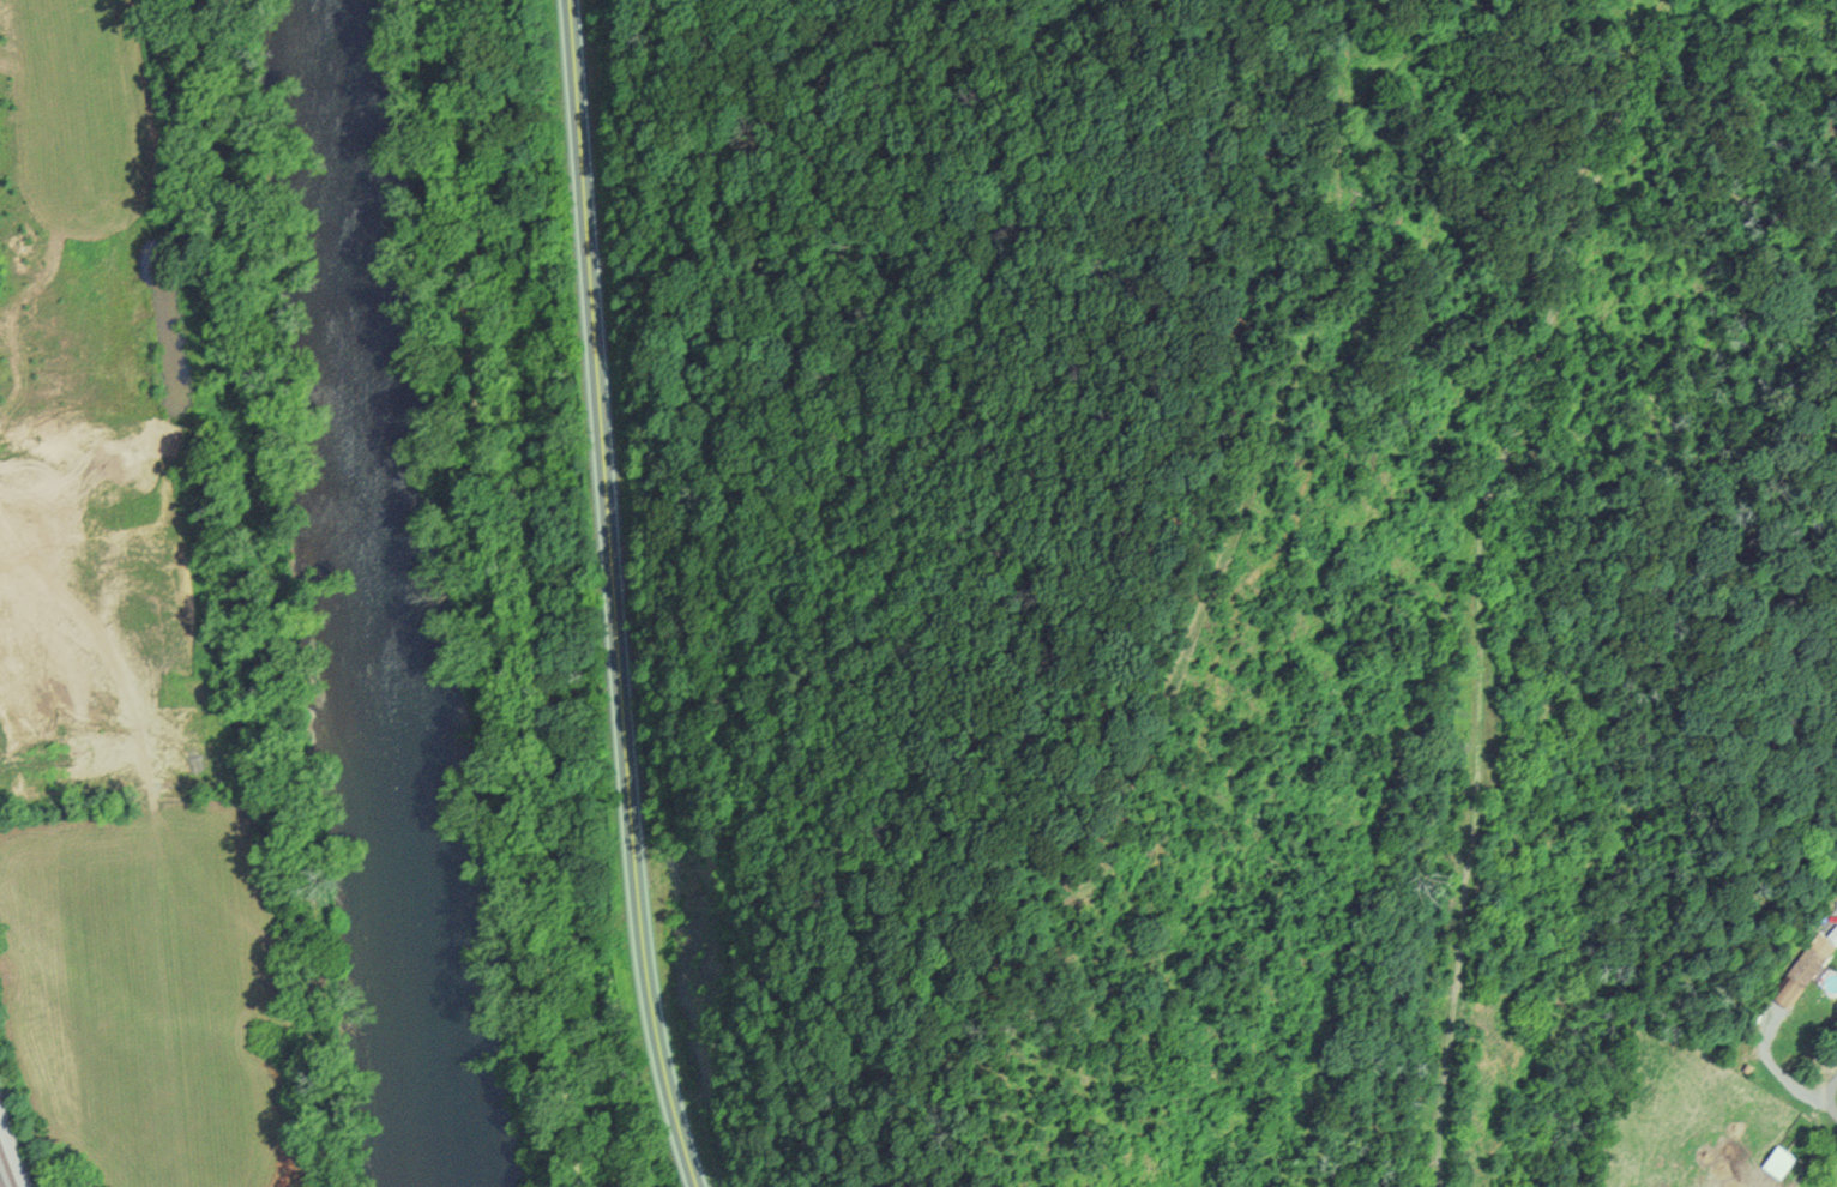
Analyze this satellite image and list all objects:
road: (1482, 578)
river: (389, 593)
road: (496, 595)
road: (614, 596)
building: (1797, 977)
road: (1831, 1096)
railway: (7, 1164)
railway: (1, 1181)

